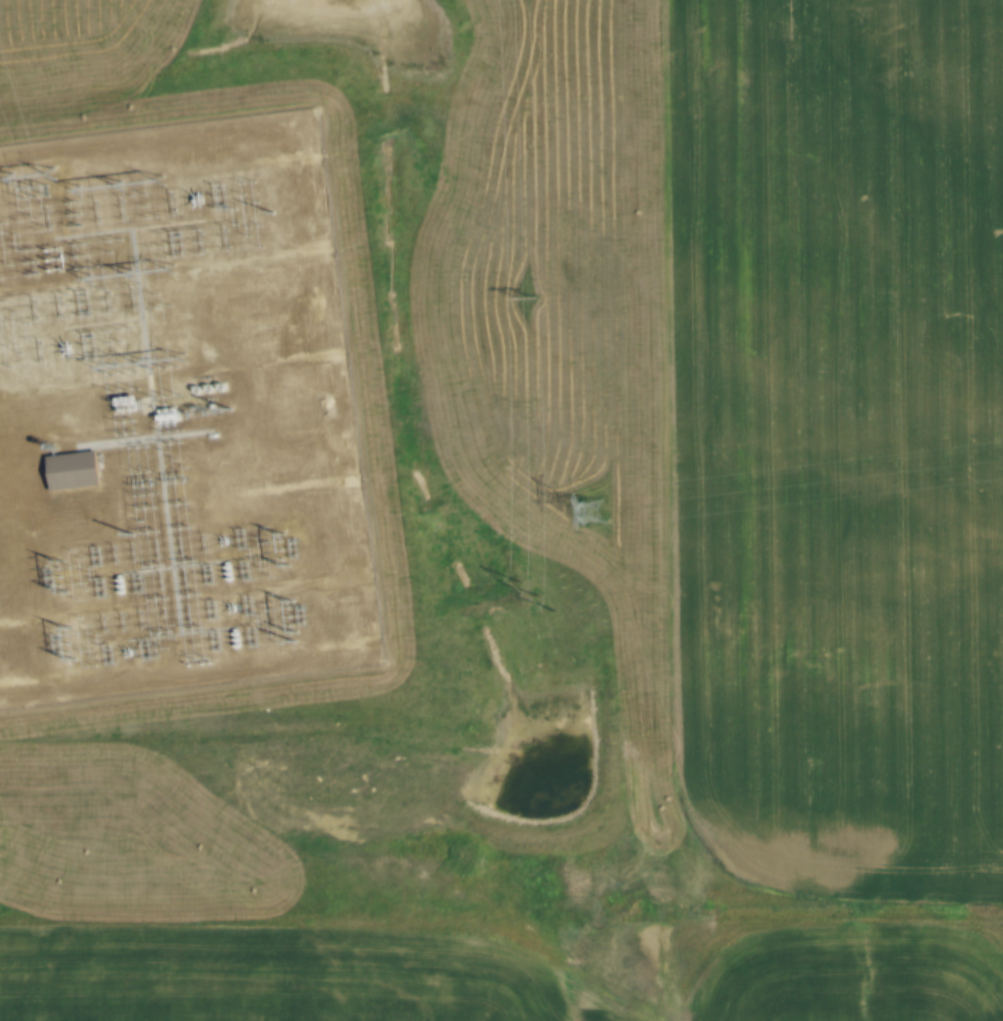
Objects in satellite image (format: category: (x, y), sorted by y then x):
power substation: (176, 414)
road: (14, 441)
building: (75, 469)
power tower: (598, 516)
power tower: (533, 596)
road: (234, 738)

